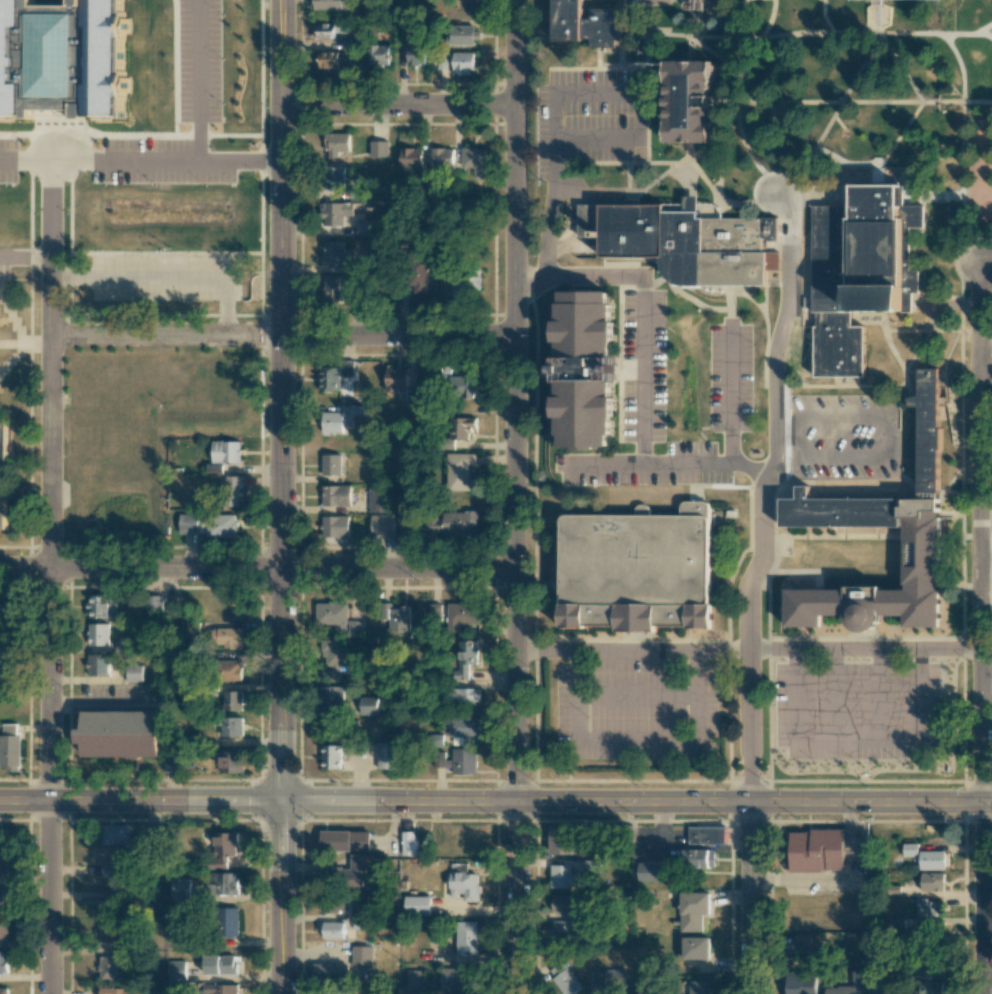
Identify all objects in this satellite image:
parking lot: (663, 2)
building: (879, 2)
building: (697, 4)
building: (334, 5)
building: (469, 7)
road: (727, 9)
road: (827, 17)
road: (702, 19)
building: (587, 24)
building: (332, 29)
parking lot: (989, 30)
road: (625, 33)
road: (672, 34)
road: (858, 34)
building: (465, 35)
building: (351, 45)
road: (710, 48)
road: (693, 50)
building: (416, 54)
building: (379, 55)
road: (601, 58)
building: (60, 61)
building: (341, 61)
building: (442, 61)
building: (464, 63)
road: (602, 68)
road: (902, 68)
parking lot: (200, 73)
road: (740, 87)
road: (560, 94)
road: (853, 102)
building: (693, 103)
road: (400, 107)
road: (198, 112)
road: (725, 112)
road: (652, 117)
parking lot: (593, 118)
road: (622, 140)
building: (337, 144)
building: (379, 148)
road: (891, 148)
road: (963, 148)
road: (710, 154)
road: (815, 155)
building: (443, 157)
building: (412, 158)
building: (475, 159)
road: (25, 161)
road: (124, 162)
road: (603, 164)
road: (674, 172)
road: (699, 172)
road: (631, 176)
building: (334, 177)
road: (870, 182)
road: (591, 196)
building: (335, 213)
road: (553, 224)
building: (366, 227)
road: (977, 238)
building: (692, 243)
building: (336, 252)
road: (14, 258)
road: (38, 258)
parking lot: (11, 260)
road: (986, 262)
road: (586, 274)
parking lot: (166, 275)
building: (864, 275)
road: (75, 276)
road: (168, 277)
building: (420, 277)
building: (466, 282)
building: (336, 289)
road: (685, 295)
road: (768, 301)
road: (732, 305)
road: (226, 313)
road: (769, 315)
road: (873, 323)
road: (926, 330)
road: (283, 336)
road: (893, 346)
road: (986, 349)
road: (914, 363)
road: (949, 363)
parking lot: (644, 366)
building: (348, 368)
building: (587, 370)
road: (645, 377)
building: (330, 378)
building: (397, 379)
parking lot: (733, 379)
building: (466, 386)
road: (850, 386)
road: (732, 390)
road: (282, 400)
road: (946, 401)
building: (332, 422)
road: (890, 425)
building: (463, 428)
parking lot: (848, 437)
building: (929, 449)
building: (225, 451)
road: (666, 463)
building: (330, 464)
parking lot: (653, 466)
building: (214, 467)
building: (462, 472)
building: (2, 473)
road: (956, 479)
road: (808, 484)
building: (231, 491)
road: (952, 491)
building: (336, 495)
road: (518, 496)
building: (380, 500)
road: (779, 512)
road: (952, 513)
building: (844, 514)
road: (964, 521)
building: (456, 523)
building: (208, 525)
building: (382, 525)
building: (335, 526)
road: (986, 552)
building: (926, 558)
road: (258, 569)
road: (808, 571)
building: (638, 572)
road: (48, 578)
road: (753, 582)
building: (153, 603)
building: (99, 606)
building: (437, 610)
building: (807, 611)
building: (3, 613)
building: (464, 613)
building: (332, 614)
building: (397, 617)
building: (357, 628)
road: (981, 628)
building: (98, 634)
building: (228, 638)
road: (633, 653)
road: (865, 653)
building: (335, 657)
building: (467, 659)
building: (4, 663)
building: (98, 665)
building: (231, 670)
building: (133, 673)
building: (465, 695)
road: (879, 695)
road: (837, 696)
building: (333, 697)
road: (638, 697)
building: (233, 700)
parking lot: (639, 700)
building: (367, 705)
parking lot: (860, 712)
building: (230, 726)
building: (465, 728)
building: (120, 734)
road: (857, 738)
road: (636, 740)
building: (9, 747)
building: (386, 756)
building: (332, 757)
building: (464, 761)
building: (229, 762)
building: (443, 762)
building: (171, 764)
traffic signals: (280, 801)
road: (140, 802)
road: (635, 804)
building: (116, 834)
building: (706, 835)
building: (4, 840)
building: (561, 840)
building: (345, 841)
building: (409, 843)
building: (222, 850)
building: (816, 850)
building: (924, 857)
building: (699, 858)
building: (591, 865)
building: (3, 866)
building: (360, 868)
building: (107, 870)
building: (649, 872)
building: (563, 877)
building: (463, 882)
building: (932, 882)
building: (225, 883)
building: (180, 889)
road: (281, 897)
building: (3, 899)
building: (113, 899)
building: (337, 903)
building: (560, 903)
building: (416, 905)
building: (928, 908)
building: (330, 909)
building: (693, 910)
building: (227, 922)
building: (4, 928)
building: (563, 929)
building: (333, 930)
building: (109, 931)
building: (466, 938)
building: (807, 943)
building: (696, 948)
building: (362, 958)
building: (3, 962)
building: (220, 965)
building: (108, 968)
building: (176, 970)
building: (330, 971)
building: (930, 977)
building: (857, 978)
building: (414, 979)
building: (564, 979)
building: (454, 980)
building: (609, 981)
building: (800, 983)
building: (877, 986)
building: (695, 987)
building: (225, 989)
building: (3, 991)
building: (120, 991)
building: (328, 992)

